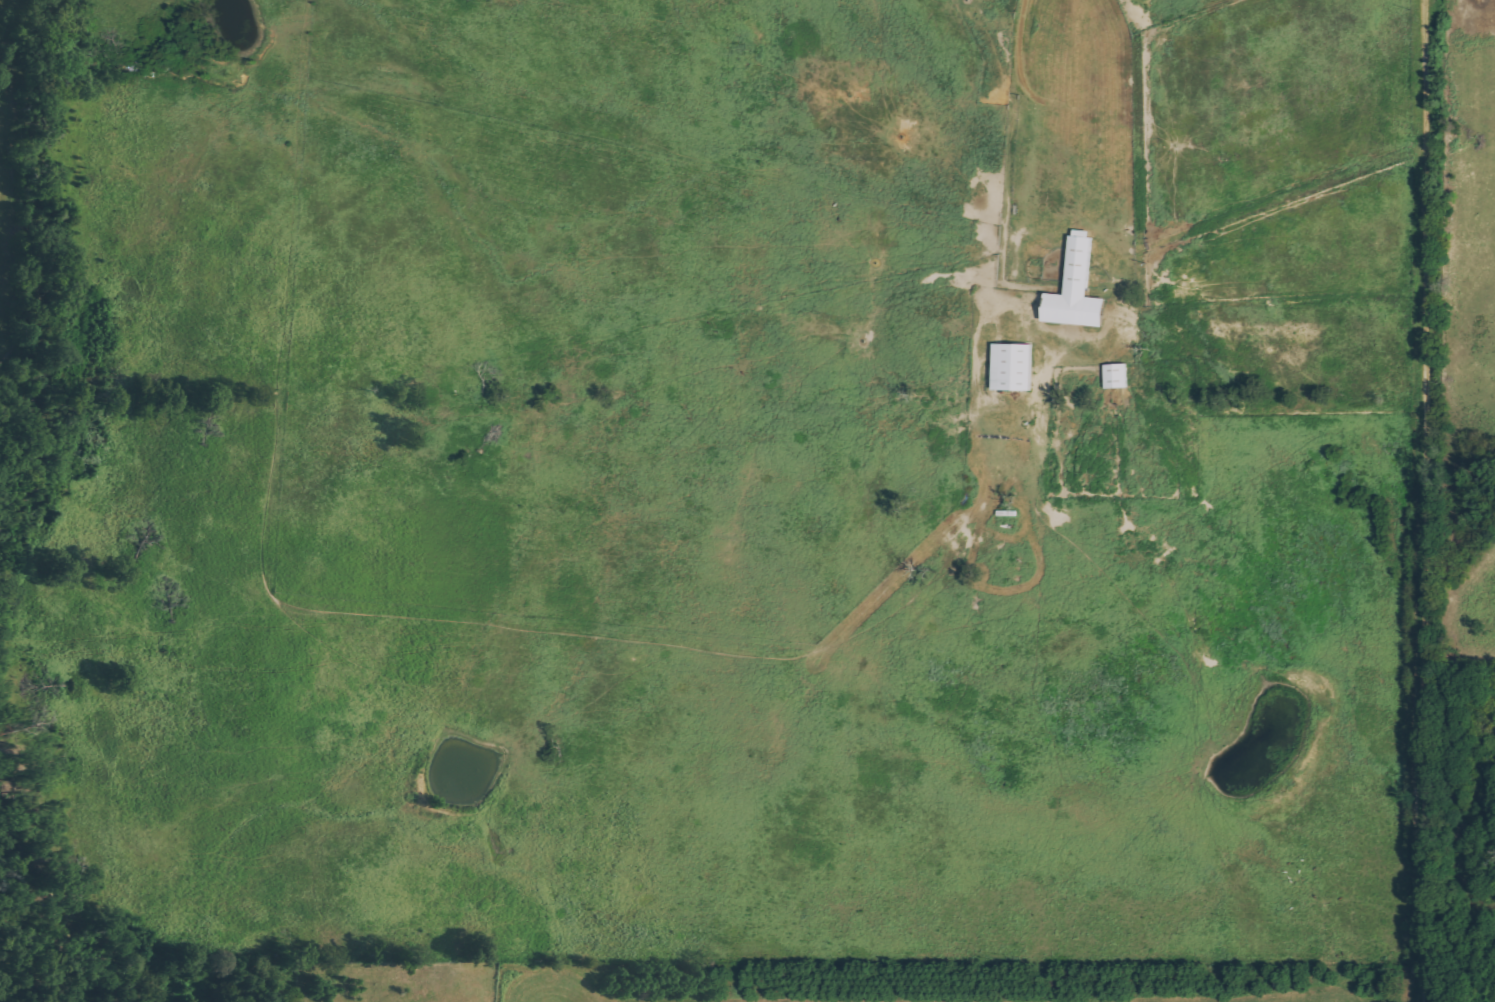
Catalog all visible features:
road: (1257, 154)
building: (1073, 288)
building: (1009, 367)
building: (1114, 375)

